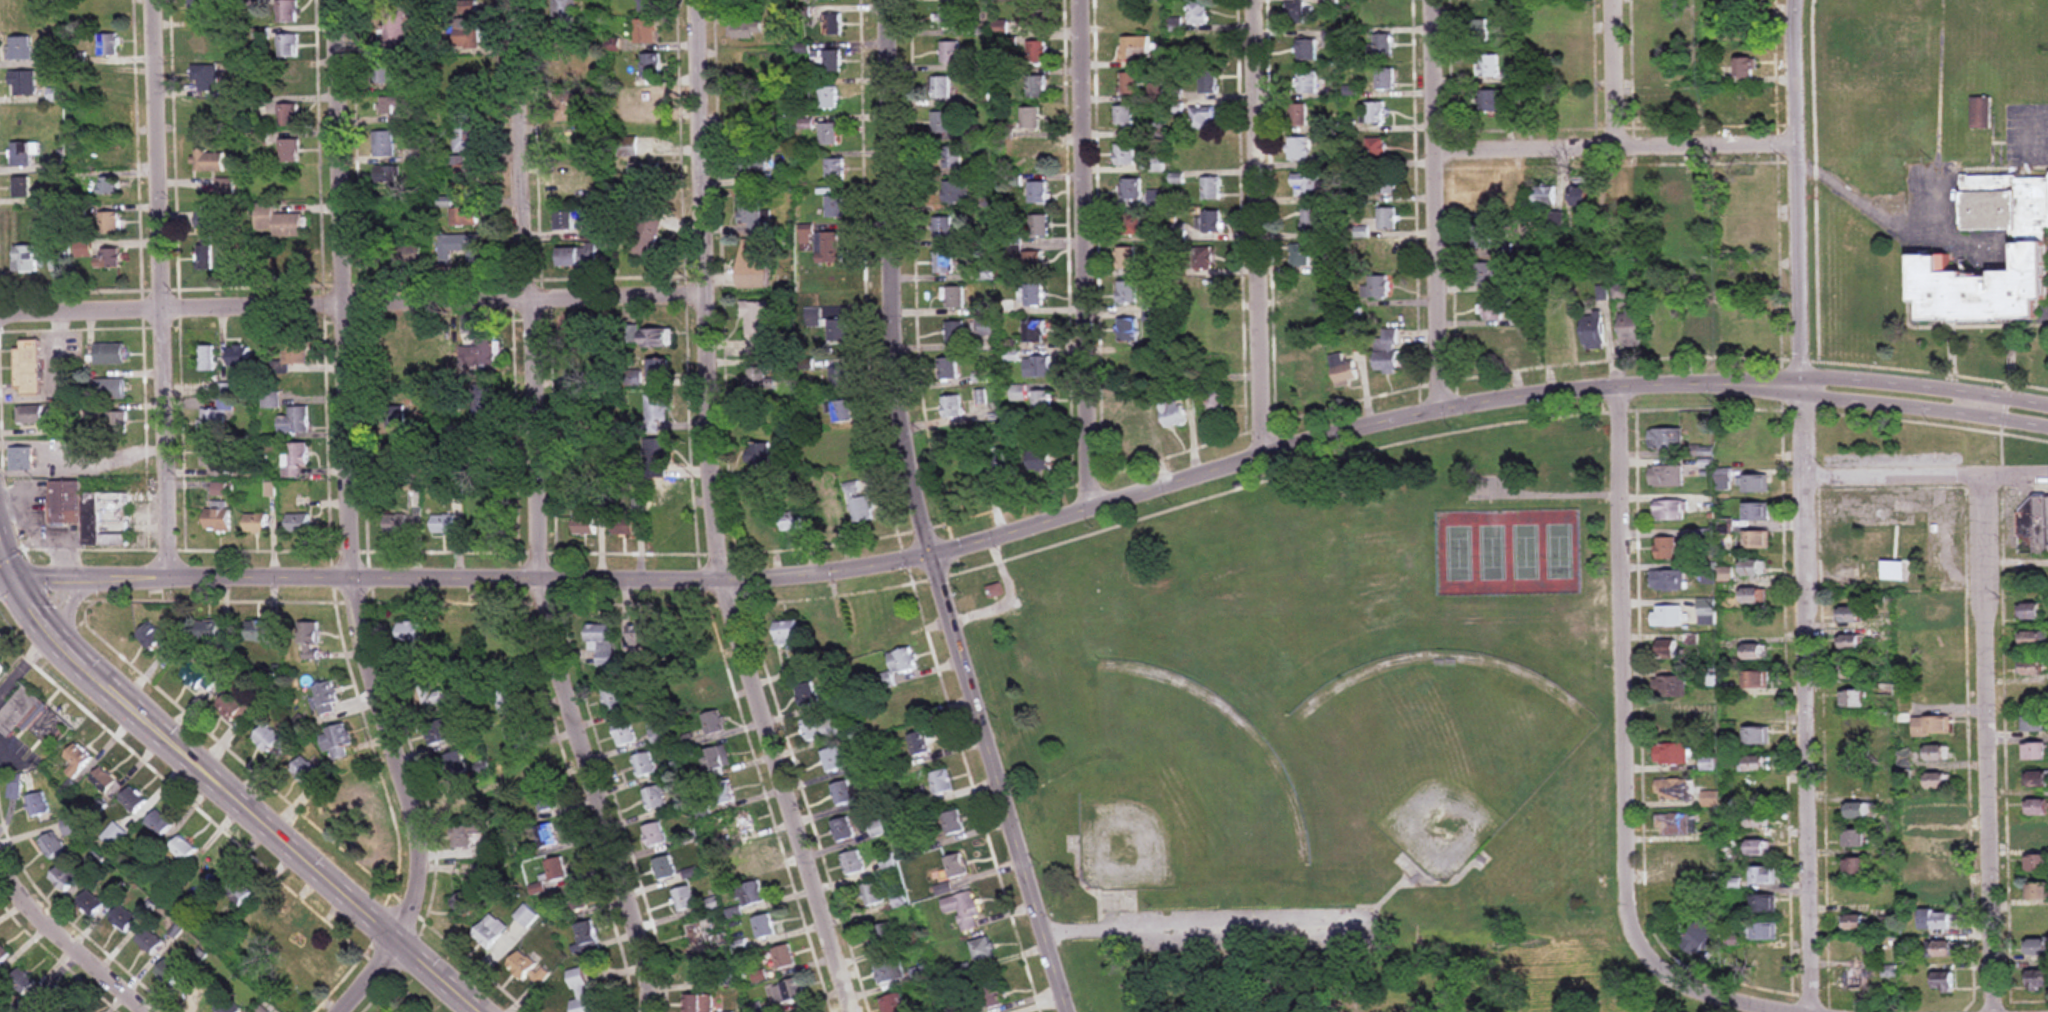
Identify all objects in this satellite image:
building: (1476, 2)
building: (647, 6)
building: (198, 9)
building: (1372, 10)
building: (285, 11)
building: (1198, 12)
building: (1295, 12)
building: (1656, 12)
building: (1121, 13)
building: (1567, 13)
building: (563, 15)
building: (102, 16)
building: (1025, 16)
building: (948, 17)
building: (831, 24)
building: (466, 25)
building: (393, 27)
building: (746, 30)
building: (1477, 30)
building: (645, 31)
building: (1746, 32)
building: (199, 42)
building: (1660, 42)
building: (107, 45)
building: (1382, 45)
building: (286, 46)
building: (1134, 47)
building: (20, 48)
building: (1208, 48)
building: (1306, 49)
building: (1034, 51)
building: (950, 52)
building: (825, 61)
building: (565, 65)
building: (649, 65)
building: (1487, 65)
building: (1746, 67)
building: (457, 71)
building: (381, 72)
building: (1568, 73)
road: (1623, 74)
building: (1511, 75)
building: (205, 77)
building: (1384, 79)
building: (276, 81)
building: (1208, 81)
building: (22, 82)
building: (1130, 82)
building: (1307, 82)
building: (939, 87)
building: (1035, 87)
building: (54, 94)
building: (827, 97)
building: (648, 100)
building: (1489, 100)
building: (1747, 100)
building: (1513, 102)
building: (1570, 103)
building: (387, 104)
building: (1661, 104)
building: (565, 106)
building: (201, 111)
building: (1374, 112)
building: (1980, 112)
building: (1298, 114)
building: (288, 115)
building: (1122, 115)
building: (106, 116)
building: (1028, 117)
building: (1202, 118)
building: (940, 122)
building: (465, 128)
building: (828, 133)
building: (746, 137)
road: (2041, 137)
building: (382, 143)
building: (566, 145)
building: (627, 147)
building: (1376, 148)
building: (1298, 149)
road: (1620, 149)
building: (288, 150)
building: (1201, 151)
building: (106, 153)
building: (21, 154)
building: (1124, 154)
building: (952, 157)
building: (1029, 157)
building: (207, 161)
building: (751, 166)
building: (833, 169)
building: (386, 173)
building: (465, 175)
building: (644, 175)
building: (1386, 183)
building: (290, 184)
building: (107, 185)
building: (568, 185)
building: (1305, 185)
building: (16, 187)
building: (224, 187)
building: (1211, 188)
building: (1131, 189)
road: (1855, 189)
building: (955, 192)
building: (1037, 192)
building: (1674, 192)
building: (1703, 193)
building: (1747, 193)
building: (1615, 194)
building: (1545, 195)
building: (1581, 195)
building: (1491, 198)
road: (1442, 204)
building: (833, 206)
building: (750, 213)
building: (464, 216)
building: (1386, 218)
building: (564, 220)
building: (1311, 220)
building: (1211, 221)
building: (109, 222)
building: (277, 222)
building: (1131, 224)
building: (1037, 225)
road: (1257, 227)
building: (943, 228)
building: (646, 232)
building: (1484, 237)
building: (459, 247)
building: (827, 247)
building: (82, 249)
building: (1376, 253)
building: (2015, 253)
road: (1088, 254)
building: (398, 255)
building: (1301, 256)
building: (576, 257)
building: (1126, 258)
building: (1203, 258)
building: (23, 259)
building: (107, 259)
building: (290, 262)
building: (1032, 262)
building: (754, 264)
building: (945, 264)
building: (1726, 265)
building: (1484, 272)
building: (1750, 280)
road: (167, 288)
building: (1375, 288)
building: (1301, 289)
building: (1202, 291)
building: (1127, 292)
building: (1032, 294)
building: (954, 298)
road: (354, 300)
building: (1492, 309)
building: (1354, 318)
building: (1310, 322)
building: (1749, 322)
building: (756, 325)
building: (980, 327)
building: (1632, 327)
building: (836, 330)
building: (1126, 330)
building: (1594, 330)
building: (1033, 331)
building: (1703, 331)
building: (954, 332)
building: (1215, 332)
building: (1668, 333)
building: (646, 337)
building: (1503, 341)
building: (386, 349)
building: (293, 351)
building: (1387, 351)
building: (108, 354)
building: (478, 354)
building: (237, 355)
building: (430, 356)
building: (205, 358)
building: (597, 365)
building: (1036, 366)
building: (26, 367)
building: (1127, 367)
building: (658, 368)
building: (947, 368)
building: (1344, 370)
building: (631, 377)
building: (839, 377)
building: (758, 378)
building: (1305, 378)
road: (1925, 388)
building: (108, 389)
building: (207, 389)
building: (223, 391)
building: (1017, 394)
building: (1214, 398)
building: (1042, 402)
building: (951, 407)
road: (1924, 409)
building: (843, 411)
building: (655, 413)
building: (1172, 413)
building: (28, 414)
building: (395, 417)
building: (293, 421)
building: (115, 423)
building: (211, 423)
building: (589, 423)
building: (1133, 429)
building: (1666, 439)
building: (1756, 440)
building: (846, 447)
building: (759, 453)
building: (655, 454)
road: (79, 455)
building: (393, 456)
building: (589, 457)
building: (19, 458)
building: (213, 459)
building: (294, 460)
building: (1039, 460)
building: (1003, 468)
road: (26, 472)
road: (1925, 476)
building: (1666, 477)
building: (965, 478)
building: (1725, 480)
building: (1757, 484)
building: (858, 501)
road: (1803, 505)
building: (1670, 511)
building: (1758, 512)
building: (88, 513)
road: (542, 513)
road: (720, 515)
road: (923, 515)
building: (216, 516)
building: (825, 518)
building: (791, 521)
building: (254, 523)
building: (296, 523)
building: (394, 524)
building: (442, 524)
building: (757, 524)
road: (353, 525)
building: (583, 525)
building: (661, 525)
building: (622, 526)
building: (2034, 528)
building: (1758, 540)
building: (1668, 549)
road: (916, 557)
road: (6, 560)
building: (1755, 568)
road: (6, 577)
traffic signals: (12, 577)
building: (1668, 581)
building: (995, 591)
building: (1754, 595)
building: (1707, 611)
building: (2031, 612)
building: (1940, 613)
building: (1851, 614)
building: (1668, 616)
building: (893, 620)
building: (1755, 623)
building: (824, 626)
building: (408, 632)
building: (453, 632)
building: (492, 632)
building: (785, 632)
building: (213, 633)
building: (260, 633)
building: (638, 633)
building: (680, 633)
building: (150, 636)
building: (2034, 639)
building: (308, 641)
building: (1940, 641)
building: (1852, 642)
building: (600, 643)
building: (1756, 651)
road: (1627, 652)
building: (1673, 652)
building: (678, 660)
building: (903, 661)
building: (1, 667)
building: (1855, 668)
building: (2034, 669)
building: (197, 676)
building: (1757, 680)
building: (1670, 687)
building: (702, 689)
building: (806, 695)
building: (431, 696)
building: (325, 698)
building: (613, 698)
building: (1854, 699)
building: (506, 702)
building: (233, 708)
building: (1757, 708)
building: (32, 718)
building: (1675, 722)
building: (712, 724)
building: (2035, 725)
building: (1933, 726)
park: (1325, 728)
building: (1855, 728)
building: (819, 729)
building: (439, 732)
building: (658, 732)
building: (624, 734)
building: (516, 736)
building: (1758, 736)
building: (269, 741)
building: (335, 741)
building: (685, 743)
building: (919, 744)
road: (1988, 744)
building: (2036, 752)
building: (1939, 753)
building: (1672, 754)
building: (1854, 755)
building: (715, 759)
building: (832, 760)
building: (76, 761)
building: (454, 764)
building: (644, 764)
building: (1708, 764)
building: (1755, 764)
building: (536, 766)
building: (307, 772)
building: (103, 780)
building: (2039, 780)
building: (942, 782)
building: (1940, 782)
building: (14, 787)
building: (1672, 790)
building: (724, 792)
building: (1755, 792)
building: (842, 793)
building: (348, 795)
building: (465, 797)
building: (550, 797)
building: (656, 797)
building: (1712, 797)
building: (131, 801)
road: (236, 801)
building: (37, 805)
building: (2038, 807)
building: (1940, 809)
building: (1862, 812)
building: (1759, 820)
building: (953, 823)
building: (158, 824)
building: (1673, 825)
building: (69, 827)
building: (842, 829)
building: (113, 835)
building: (464, 835)
building: (654, 835)
building: (2037, 836)
building: (545, 837)
building: (1937, 839)
building: (1857, 840)
building: (51, 846)
building: (1760, 848)
building: (182, 849)
building: (752, 858)
building: (1676, 860)
building: (852, 863)
building: (2037, 864)
building: (956, 866)
building: (1937, 866)
building: (663, 868)
building: (555, 869)
building: (1857, 869)
building: (208, 872)
building: (1764, 877)
building: (61, 878)
building: (237, 891)
building: (2038, 892)
building: (1940, 893)
building: (749, 894)
building: (872, 894)
building: (1857, 895)
building: (683, 899)
building: (575, 900)
building: (467, 904)
building: (1765, 904)
building: (88, 905)
building: (965, 909)
building: (264, 915)
building: (526, 916)
building: (121, 919)
building: (2037, 919)
building: (1938, 921)
building: (1858, 923)
building: (763, 927)
road: (1206, 930)
building: (489, 931)
building: (1760, 932)
building: (701, 936)
building: (882, 936)
building: (585, 938)
building: (1699, 939)
building: (287, 941)
building: (148, 942)
road: (66, 944)
building: (2037, 946)
building: (983, 949)
building: (1945, 949)
building: (1, 953)
building: (782, 959)
building: (314, 964)
building: (521, 966)
building: (1766, 966)
building: (888, 972)
building: (167, 973)
building: (693, 973)
building: (1856, 980)
building: (2039, 980)
building: (20, 982)
building: (1945, 983)
road: (1696, 988)
building: (581, 992)
building: (788, 992)
building: (195, 994)
building: (994, 996)
building: (55, 1000)
building: (698, 1003)
building: (893, 1004)
building: (226, 1007)
building: (78, 1010)

